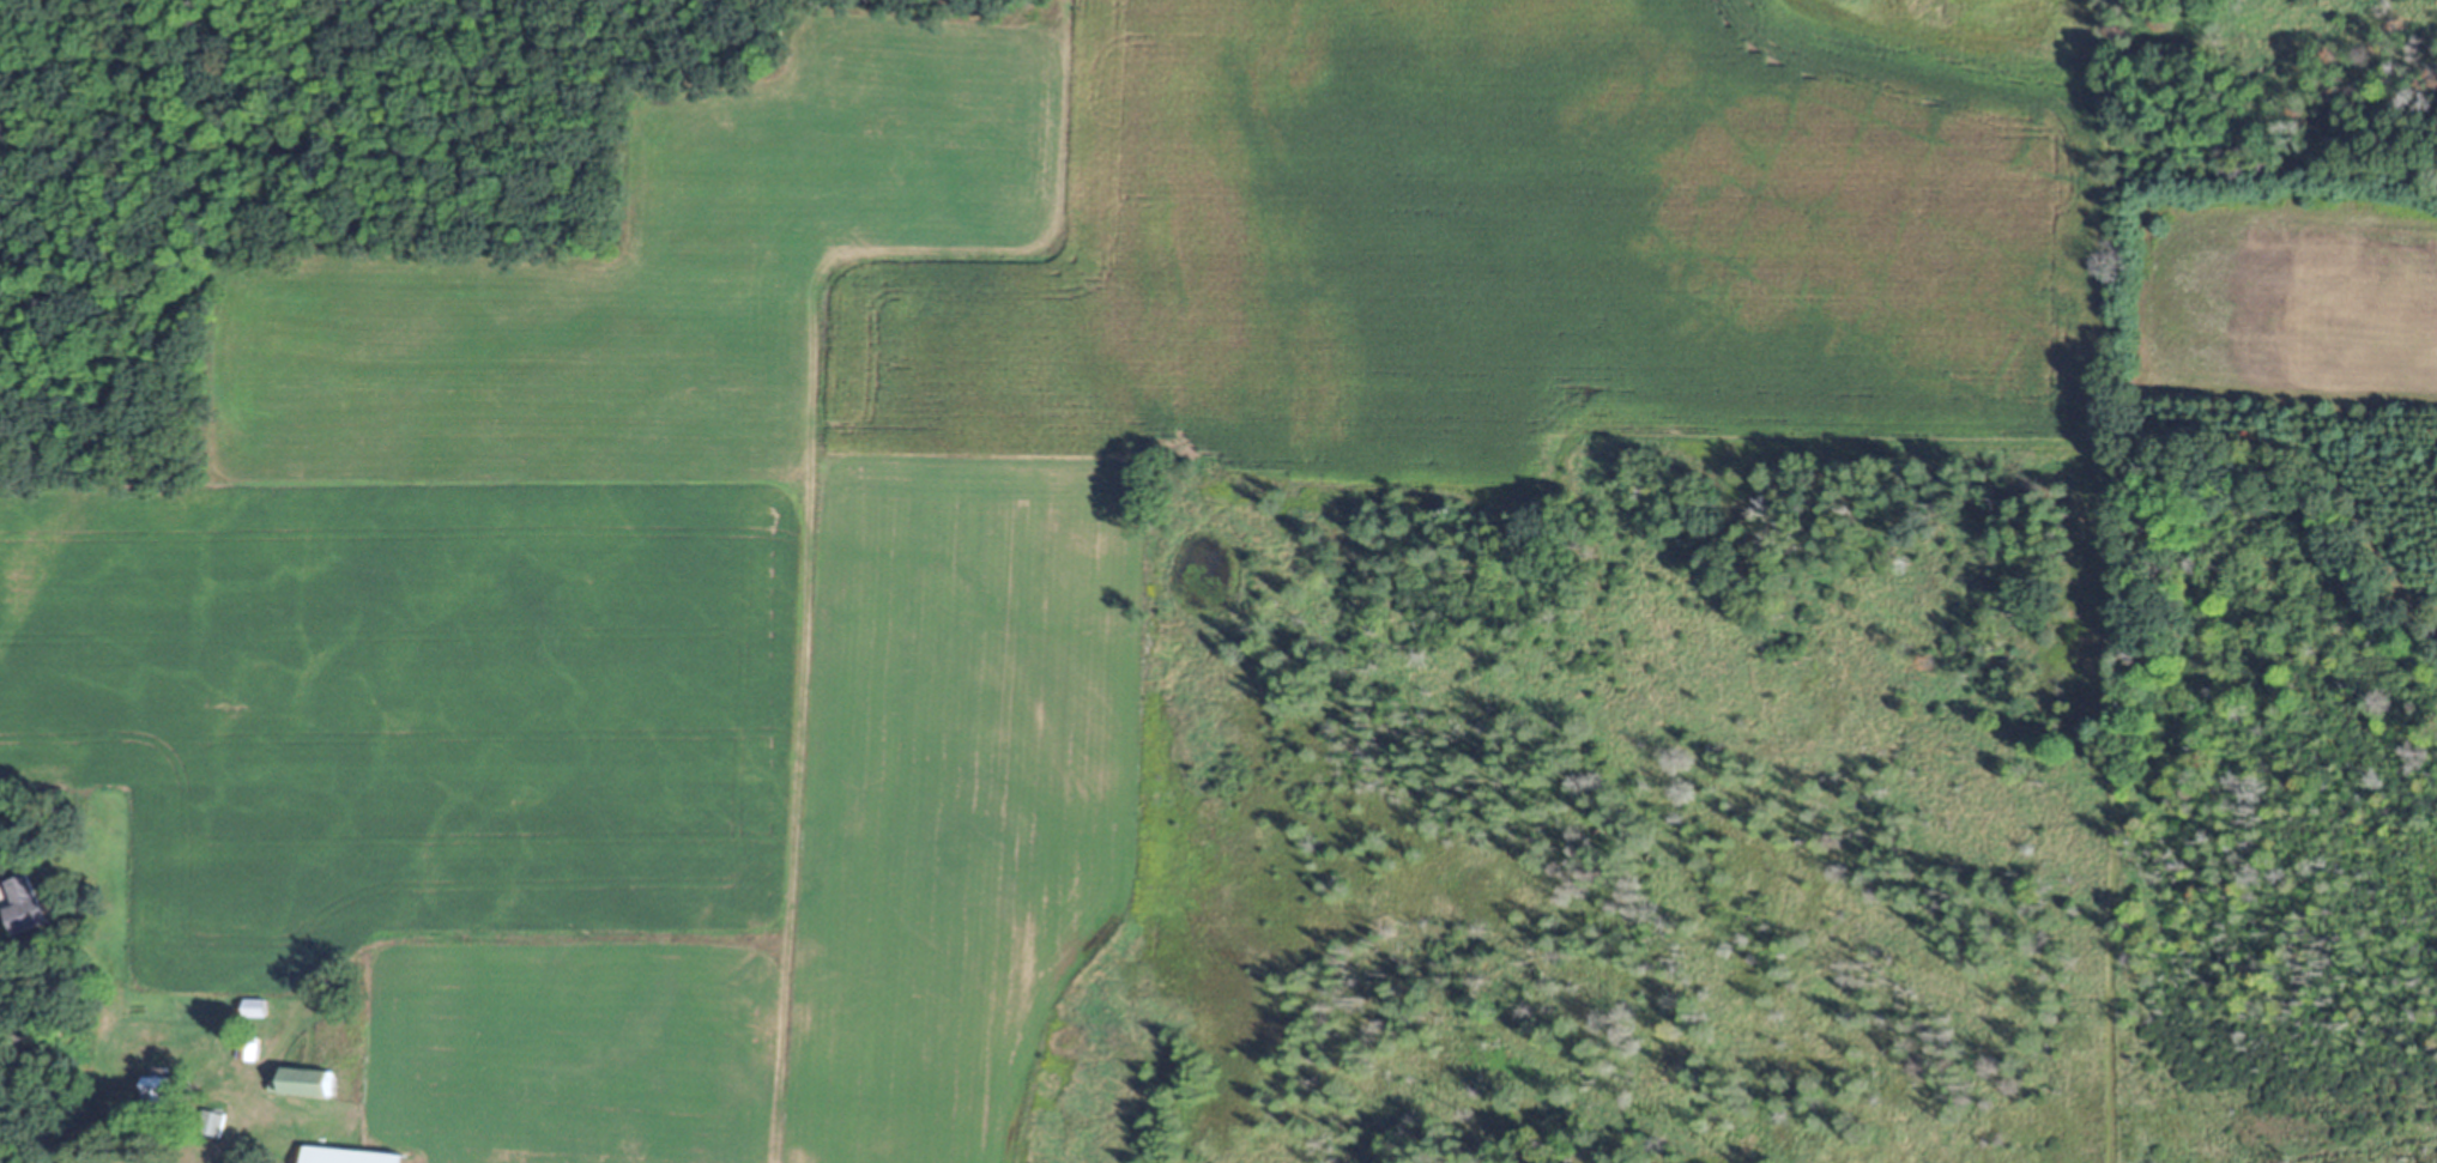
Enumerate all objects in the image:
building: (38, 929)
building: (265, 1022)
building: (255, 1062)
building: (320, 1096)
building: (169, 1106)

